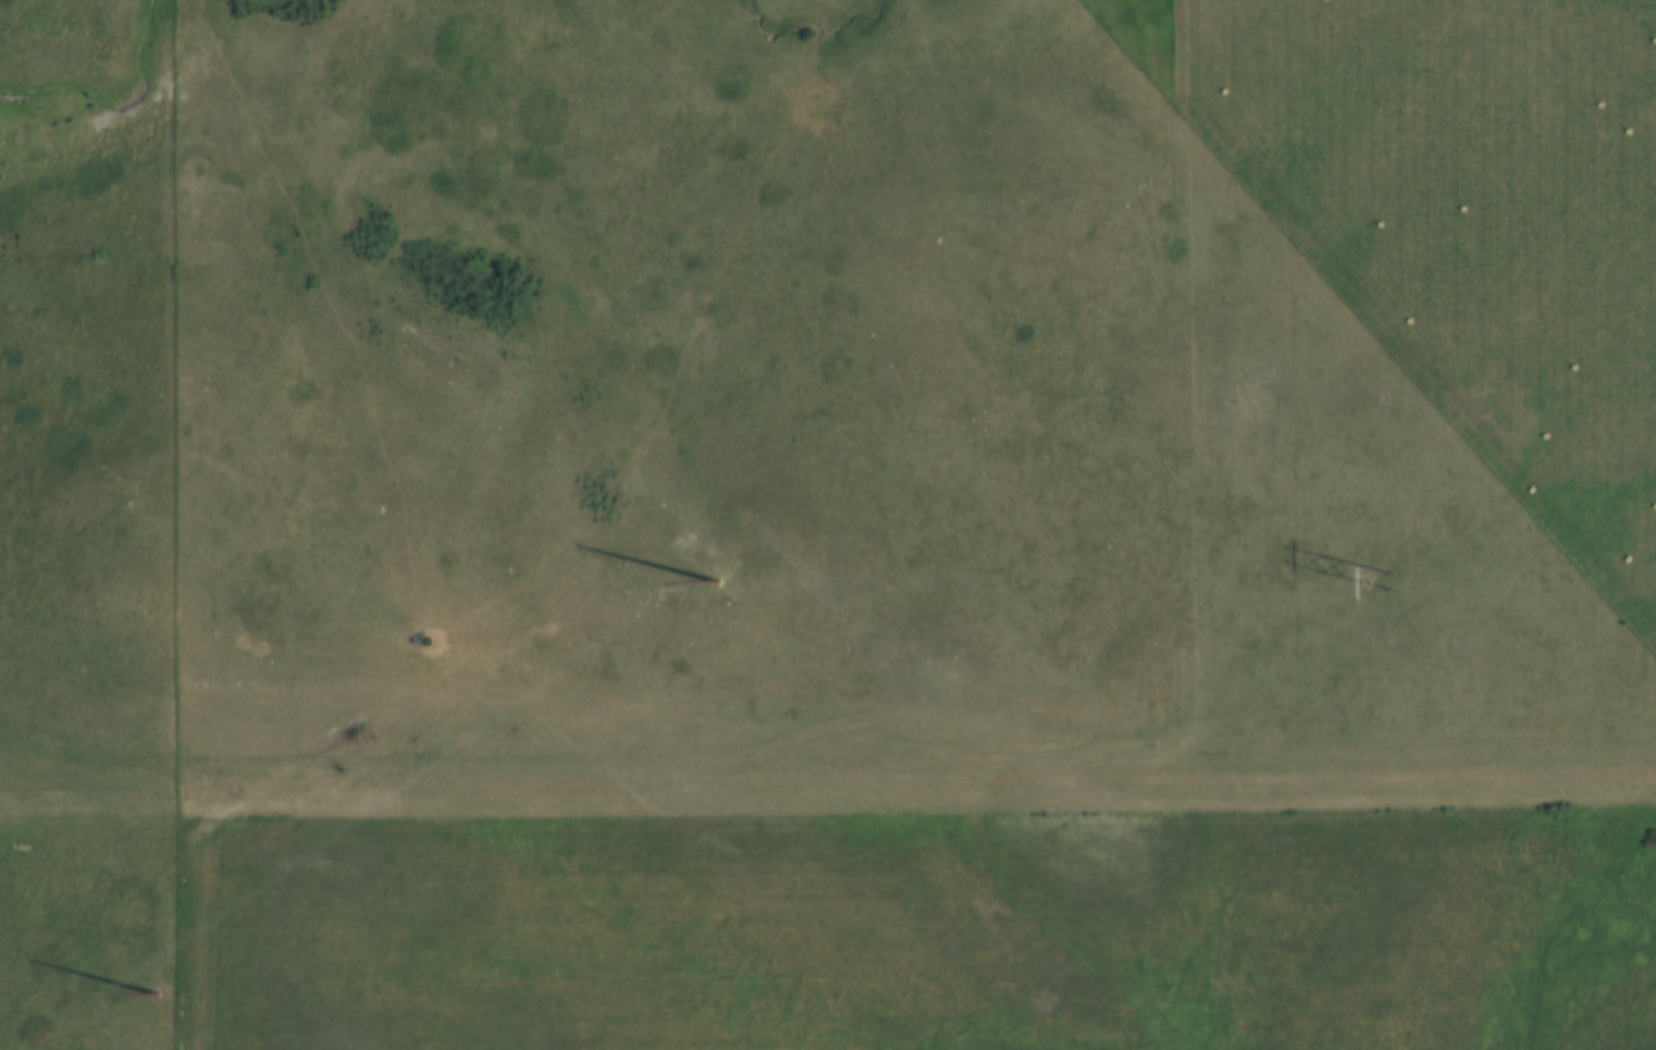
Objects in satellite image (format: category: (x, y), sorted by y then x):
power tower: (715, 583)
power tower: (1391, 583)
road: (827, 789)
power tower: (151, 995)

